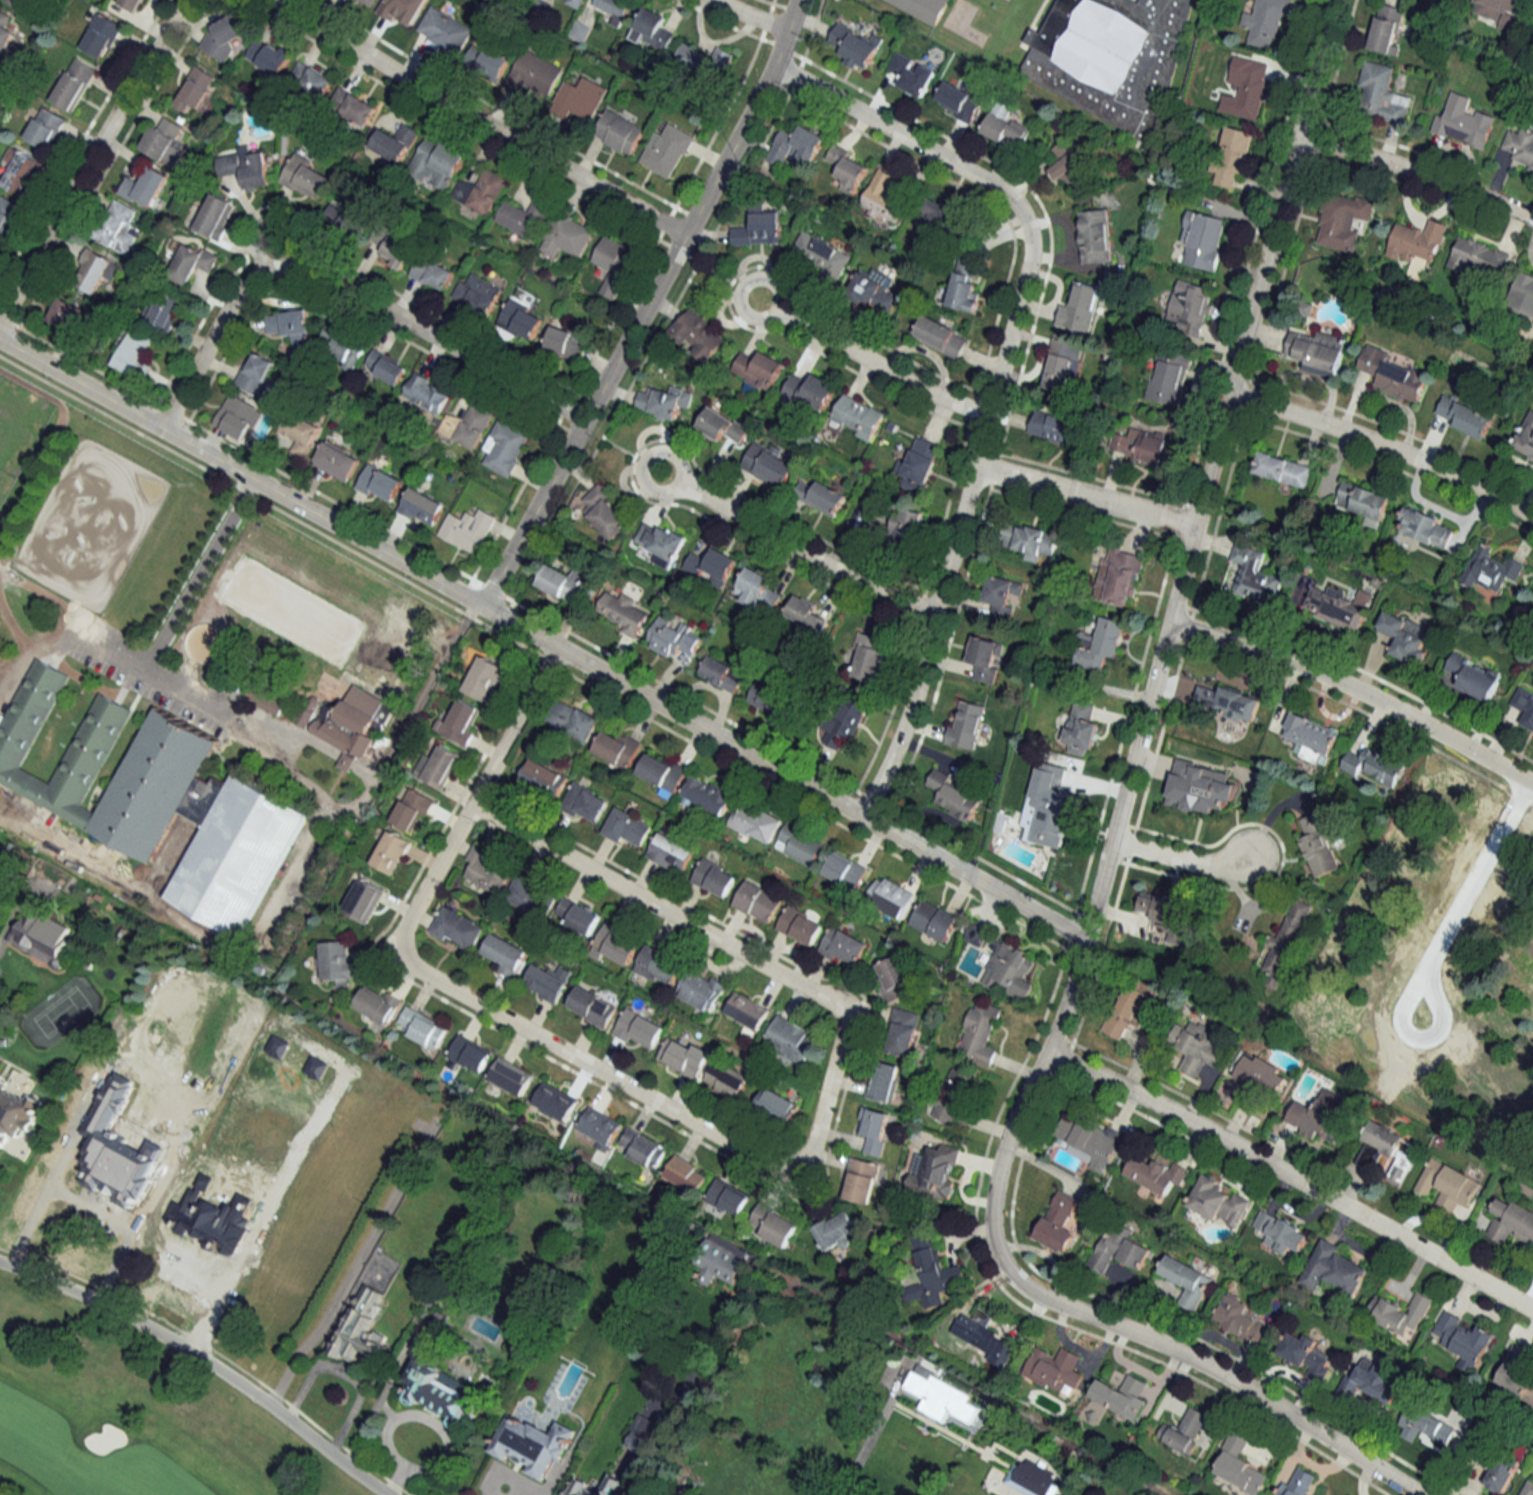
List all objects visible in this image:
building: (368, 2)
building: (22, 3)
building: (575, 3)
building: (133, 4)
building: (401, 7)
building: (921, 8)
building: (1495, 8)
building: (615, 9)
road: (750, 16)
building: (1264, 21)
building: (1387, 29)
building: (445, 30)
building: (652, 30)
building: (4, 31)
building: (580, 31)
building: (101, 35)
building: (224, 38)
building: (854, 46)
building: (269, 55)
building: (1108, 57)
building: (487, 61)
building: (705, 62)
building: (534, 74)
building: (912, 74)
building: (311, 78)
building: (74, 84)
building: (1244, 86)
building: (195, 89)
building: (1381, 93)
building: (582, 98)
building: (958, 101)
building: (353, 106)
road: (475, 124)
building: (1464, 126)
building: (46, 128)
building: (1006, 130)
building: (619, 132)
building: (165, 140)
building: (395, 143)
building: (796, 145)
building: (1520, 147)
building: (667, 149)
road: (728, 149)
building: (1229, 154)
road: (90, 158)
building: (437, 163)
building: (247, 167)
building: (1067, 167)
building: (848, 168)
road: (1417, 172)
building: (21, 173)
building: (307, 178)
road: (995, 186)
building: (145, 187)
building: (480, 192)
building: (883, 198)
building: (6, 213)
building: (938, 213)
building: (215, 215)
road: (271, 217)
building: (524, 218)
building: (1342, 220)
building: (344, 222)
building: (119, 227)
building: (759, 229)
building: (567, 236)
building: (1094, 236)
building: (1203, 238)
building: (1418, 242)
building: (392, 247)
building: (821, 254)
building: (1479, 258)
building: (193, 262)
building: (614, 265)
building: (94, 270)
building: (432, 273)
building: (964, 284)
road: (343, 286)
building: (873, 290)
building: (478, 294)
building: (1522, 294)
building: (1190, 306)
building: (1079, 309)
building: (166, 311)
building: (68, 314)
building: (520, 319)
building: (290, 325)
building: (698, 335)
building: (940, 336)
building: (566, 342)
building: (340, 348)
building: (1317, 351)
building: (134, 356)
building: (1061, 365)
road: (869, 366)
building: (386, 367)
building: (758, 369)
building: (256, 372)
building: (1392, 375)
building: (1169, 378)
building: (426, 392)
building: (809, 392)
building: (663, 401)
building: (857, 416)
building: (1464, 416)
building: (238, 417)
building: (721, 425)
building: (468, 426)
building: (1052, 426)
building: (301, 433)
building: (1525, 436)
road: (981, 445)
building: (1142, 446)
building: (505, 447)
road: (1384, 447)
road: (566, 450)
building: (336, 460)
building: (768, 465)
building: (919, 465)
building: (1283, 470)
building: (379, 483)
building: (820, 497)
road: (1084, 497)
building: (1362, 501)
building: (421, 507)
building: (605, 512)
park: (86, 520)
building: (905, 525)
road: (1194, 527)
building: (1423, 528)
building: (467, 529)
building: (1030, 540)
building: (660, 543)
road: (790, 548)
building: (711, 565)
building: (1490, 569)
building: (1118, 576)
building: (1252, 576)
park: (274, 578)
building: (562, 582)
building: (757, 591)
building: (1001, 595)
building: (1334, 607)
building: (623, 611)
building: (806, 614)
road: (59, 630)
building: (1405, 636)
building: (673, 637)
road: (541, 640)
building: (1101, 643)
road: (926, 646)
building: (868, 658)
building: (985, 658)
road: (145, 665)
building: (722, 673)
building: (1471, 676)
building: (487, 679)
road: (1357, 690)
building: (766, 696)
building: (265, 700)
building: (1227, 703)
building: (1524, 706)
building: (345, 720)
building: (573, 721)
building: (843, 721)
building: (459, 722)
building: (965, 724)
road: (514, 726)
building: (1080, 728)
building: (1310, 733)
building: (89, 744)
building: (616, 747)
road: (344, 757)
building: (1372, 765)
building: (437, 767)
building: (661, 771)
building: (542, 777)
building: (150, 782)
building: (1199, 787)
building: (707, 795)
building: (952, 796)
road: (327, 799)
building: (584, 803)
building: (1048, 807)
building: (412, 810)
building: (755, 822)
building: (626, 828)
building: (799, 844)
building: (1318, 845)
building: (230, 847)
building: (390, 852)
building: (670, 852)
road: (298, 859)
road: (1180, 859)
building: (485, 869)
building: (845, 870)
building: (713, 877)
building: (530, 896)
building: (890, 896)
building: (363, 899)
building: (757, 901)
building: (1162, 913)
building: (577, 916)
building: (933, 920)
building: (800, 925)
building: (456, 928)
building: (40, 936)
building: (617, 943)
building: (1284, 943)
road: (1441, 943)
building: (843, 946)
building: (504, 954)
building: (337, 962)
building: (1005, 964)
building: (659, 965)
building: (894, 978)
building: (547, 981)
building: (1389, 984)
building: (702, 990)
building: (377, 1003)
building: (591, 1006)
building: (1131, 1006)
building: (746, 1011)
building: (421, 1027)
building: (638, 1029)
building: (903, 1031)
building: (979, 1033)
building: (791, 1040)
building: (1196, 1046)
building: (469, 1053)
building: (683, 1056)
road: (834, 1062)
building: (1259, 1073)
building: (509, 1075)
building: (726, 1080)
building: (883, 1081)
building: (957, 1097)
building: (556, 1101)
building: (776, 1104)
building: (14, 1106)
building: (1320, 1114)
building: (600, 1127)
building: (876, 1131)
building: (1088, 1139)
building: (642, 1148)
building: (1389, 1151)
road: (64, 1160)
building: (934, 1171)
building: (1155, 1173)
building: (685, 1175)
road: (1291, 1177)
building: (860, 1180)
building: (1453, 1184)
building: (727, 1197)
building: (1218, 1202)
building: (1511, 1221)
building: (1058, 1222)
building: (772, 1224)
building: (835, 1230)
building: (1280, 1232)
building: (1119, 1248)
road: (352, 1264)
building: (718, 1264)
building: (1333, 1269)
building: (932, 1274)
building: (1187, 1280)
road: (219, 1298)
building: (1400, 1312)
building: (1242, 1320)
road: (1110, 1324)
building: (362, 1327)
building: (990, 1338)
building: (1464, 1340)
building: (1303, 1352)
road: (205, 1359)
building: (1054, 1369)
building: (1517, 1373)
building: (1372, 1381)
building: (438, 1386)
building: (938, 1393)
building: (1120, 1396)
park: (121, 1425)
building: (1428, 1426)
building: (1184, 1430)
building: (641, 1433)
road: (869, 1433)
building: (529, 1441)
building: (1239, 1466)
building: (1505, 1466)
building: (1297, 1483)
building: (581, 1485)
building: (1528, 1488)
building: (759, 1492)

